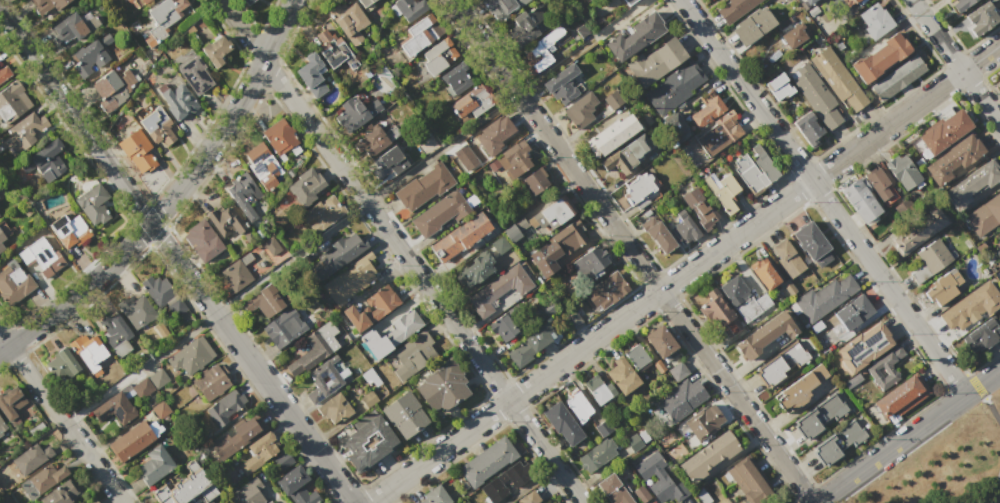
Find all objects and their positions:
building: (244, 1)
building: (246, 1)
building: (629, 2)
building: (138, 3)
building: (366, 4)
building: (807, 4)
building: (839, 4)
building: (48, 5)
building: (961, 5)
building: (501, 6)
building: (407, 8)
building: (733, 8)
building: (812, 11)
building: (981, 18)
building: (163, 19)
building: (349, 20)
building: (875, 21)
building: (752, 25)
building: (74, 27)
building: (526, 27)
building: (580, 30)
building: (418, 34)
building: (794, 36)
building: (635, 37)
building: (106, 40)
building: (839, 45)
building: (332, 49)
building: (215, 50)
building: (881, 55)
building: (439, 56)
building: (536, 57)
building: (89, 58)
building: (655, 61)
road: (955, 62)
building: (4, 73)
building: (194, 75)
building: (312, 75)
building: (456, 78)
building: (838, 78)
building: (898, 78)
building: (999, 82)
building: (563, 85)
building: (779, 87)
building: (113, 88)
building: (673, 88)
building: (816, 96)
building: (613, 100)
building: (177, 101)
building: (472, 101)
building: (12, 102)
building: (706, 109)
building: (580, 110)
building: (356, 113)
building: (674, 122)
building: (157, 126)
building: (809, 128)
building: (25, 132)
building: (689, 133)
building: (718, 133)
building: (943, 133)
building: (494, 135)
building: (612, 135)
building: (281, 138)
building: (374, 140)
road: (442, 148)
building: (137, 151)
building: (457, 155)
building: (626, 155)
building: (516, 158)
building: (953, 158)
building: (44, 160)
building: (388, 162)
building: (919, 162)
building: (262, 166)
building: (755, 169)
building: (902, 171)
building: (535, 180)
building: (971, 184)
building: (878, 185)
building: (305, 186)
building: (424, 187)
building: (639, 190)
building: (722, 190)
building: (243, 193)
road: (822, 197)
road: (173, 198)
building: (860, 200)
building: (93, 204)
building: (700, 207)
building: (442, 212)
building: (322, 213)
building: (984, 215)
building: (542, 218)
building: (226, 220)
building: (685, 228)
building: (69, 230)
building: (919, 232)
building: (462, 236)
building: (659, 236)
building: (2, 237)
building: (202, 240)
building: (813, 243)
building: (500, 245)
building: (1, 247)
building: (557, 248)
road: (401, 251)
road: (631, 251)
building: (337, 254)
building: (41, 256)
road: (176, 258)
building: (786, 258)
building: (930, 260)
building: (590, 263)
building: (476, 269)
building: (238, 273)
road: (684, 273)
building: (764, 273)
building: (351, 279)
building: (14, 281)
building: (787, 287)
building: (943, 287)
building: (499, 289)
building: (607, 290)
building: (162, 294)
building: (823, 298)
building: (743, 299)
building: (265, 300)
building: (969, 308)
building: (382, 309)
building: (136, 310)
building: (550, 311)
building: (719, 313)
building: (853, 313)
building: (573, 318)
building: (508, 324)
building: (816, 326)
building: (284, 327)
building: (113, 330)
building: (987, 332)
building: (391, 334)
building: (764, 335)
building: (660, 341)
building: (530, 344)
building: (864, 347)
building: (314, 349)
building: (89, 352)
building: (413, 355)
building: (190, 356)
building: (635, 356)
building: (61, 364)
building: (781, 364)
building: (659, 366)
building: (885, 368)
building: (677, 371)
building: (882, 372)
building: (622, 376)
building: (157, 378)
building: (324, 378)
building: (335, 380)
building: (212, 381)
building: (852, 381)
building: (442, 386)
building: (142, 388)
building: (799, 389)
building: (598, 390)
building: (901, 396)
building: (681, 398)
building: (368, 399)
building: (10, 403)
building: (578, 406)
building: (225, 407)
building: (115, 409)
building: (160, 409)
building: (333, 410)
building: (404, 414)
building: (820, 415)
road: (61, 418)
building: (617, 420)
building: (703, 421)
building: (563, 423)
building: (2, 427)
building: (603, 428)
road: (908, 436)
building: (237, 437)
building: (133, 439)
building: (370, 441)
building: (839, 441)
building: (386, 443)
building: (634, 443)
building: (259, 452)
building: (597, 455)
building: (708, 456)
building: (31, 458)
park: (938, 458)
building: (282, 459)
building: (485, 463)
building: (155, 465)
building: (745, 476)
building: (658, 479)
building: (42, 480)
building: (496, 482)
building: (296, 486)
building: (185, 487)
building: (614, 490)
building: (62, 493)
building: (248, 493)
building: (640, 493)
road: (994, 494)
building: (702, 495)
building: (435, 496)
building: (528, 498)
building: (3, 499)
building: (80, 502)
building: (94, 502)
building: (269, 502)

